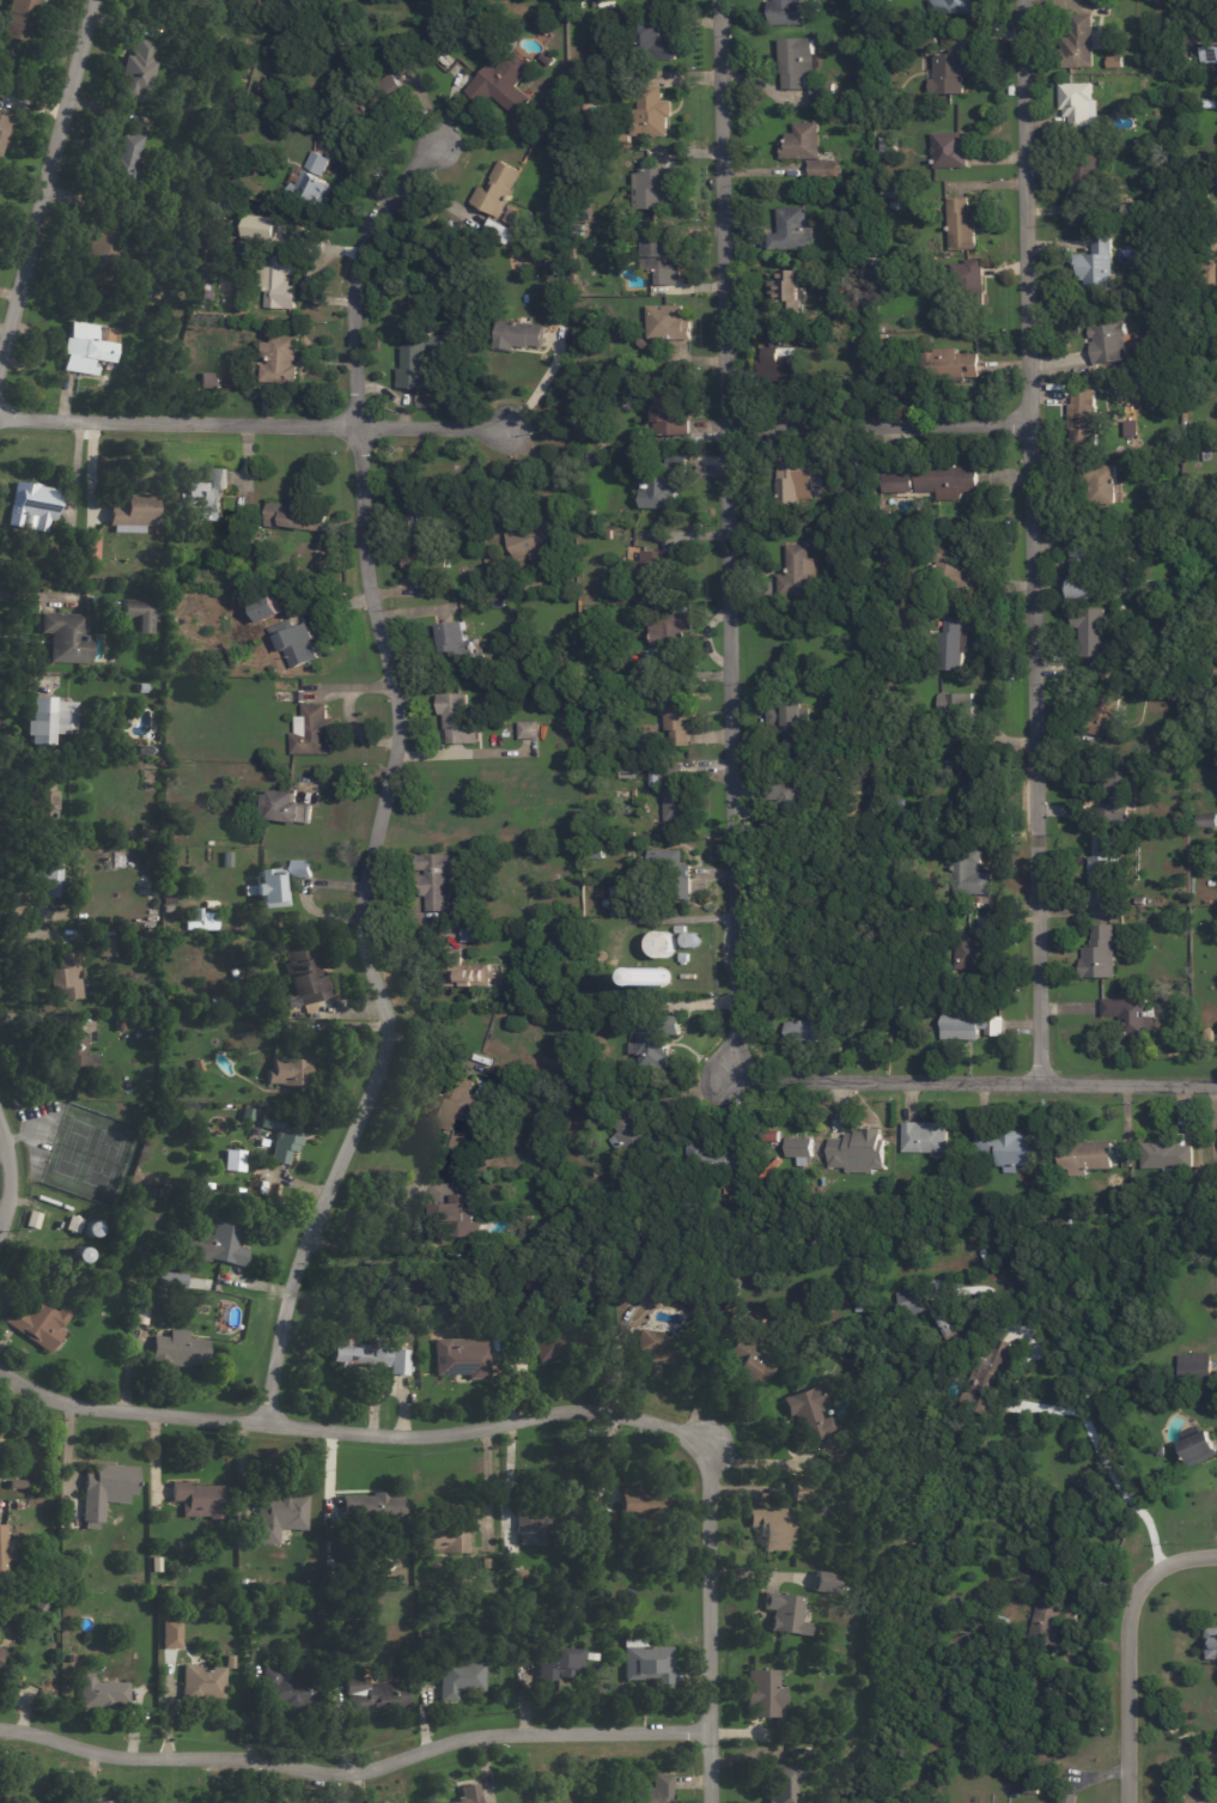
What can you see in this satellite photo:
building: (590, 5)
building: (950, 7)
building: (785, 13)
building: (18, 20)
building: (919, 41)
building: (655, 43)
building: (1078, 45)
building: (1209, 54)
building: (549, 60)
building: (797, 63)
building: (1114, 63)
building: (134, 72)
building: (948, 74)
building: (499, 84)
building: (822, 97)
building: (375, 99)
building: (1078, 107)
building: (1210, 107)
building: (651, 111)
building: (4, 136)
building: (801, 145)
building: (888, 148)
building: (949, 152)
building: (620, 154)
building: (124, 160)
building: (820, 171)
building: (1164, 174)
road: (45, 175)
building: (1083, 181)
building: (308, 188)
building: (652, 188)
building: (498, 190)
building: (889, 193)
building: (894, 208)
building: (254, 226)
building: (960, 226)
building: (497, 232)
building: (790, 232)
building: (96, 257)
building: (656, 257)
building: (1093, 272)
building: (969, 279)
building: (275, 283)
building: (786, 296)
building: (178, 310)
building: (668, 324)
building: (518, 336)
building: (819, 344)
building: (1108, 346)
building: (84, 351)
building: (233, 359)
building: (278, 362)
building: (415, 363)
building: (779, 366)
building: (947, 368)
building: (647, 381)
building: (207, 383)
building: (1212, 388)
road: (252, 417)
building: (1085, 420)
road: (876, 421)
building: (665, 423)
building: (1127, 427)
building: (1206, 456)
building: (597, 460)
building: (945, 479)
building: (661, 484)
building: (797, 484)
building: (897, 484)
building: (1103, 486)
building: (207, 494)
building: (32, 506)
building: (419, 516)
building: (128, 517)
building: (296, 517)
road: (725, 529)
building: (609, 535)
building: (531, 539)
road: (1029, 539)
building: (89, 550)
building: (409, 565)
building: (1082, 569)
building: (953, 570)
building: (797, 575)
building: (647, 577)
road: (39, 595)
building: (498, 606)
building: (266, 609)
building: (134, 619)
building: (667, 629)
building: (62, 631)
building: (1088, 633)
building: (293, 644)
building: (454, 644)
building: (953, 648)
building: (139, 690)
building: (1105, 715)
building: (957, 716)
building: (790, 718)
building: (676, 720)
building: (44, 722)
building: (455, 722)
building: (528, 731)
building: (312, 733)
building: (628, 772)
road: (387, 778)
building: (673, 790)
building: (979, 791)
building: (783, 796)
building: (1114, 799)
building: (43, 802)
building: (278, 808)
building: (1178, 820)
building: (1206, 822)
building: (147, 836)
building: (596, 854)
building: (1102, 864)
building: (304, 870)
building: (670, 873)
building: (48, 879)
building: (969, 880)
building: (437, 885)
building: (267, 890)
building: (615, 903)
building: (1140, 903)
building: (195, 916)
road: (31, 930)
building: (680, 930)
building: (469, 936)
building: (659, 942)
building: (105, 949)
building: (969, 954)
building: (1099, 954)
building: (684, 959)
building: (303, 977)
building: (467, 977)
building: (63, 978)
building: (653, 978)
building: (895, 1007)
building: (1130, 1016)
building: (894, 1018)
building: (121, 1026)
building: (966, 1026)
building: (804, 1032)
building: (657, 1042)
building: (73, 1067)
building: (197, 1068)
building: (290, 1070)
road: (978, 1076)
building: (451, 1106)
building: (245, 1117)
building: (625, 1136)
building: (282, 1139)
building: (769, 1139)
building: (924, 1140)
building: (798, 1148)
building: (1005, 1149)
building: (857, 1153)
building: (706, 1158)
building: (1167, 1158)
building: (232, 1159)
building: (1084, 1159)
road: (14, 1177)
building: (1195, 1194)
building: (454, 1216)
building: (1114, 1221)
building: (30, 1222)
building: (71, 1226)
road: (369, 1239)
building: (214, 1245)
building: (711, 1264)
building: (168, 1276)
building: (397, 1282)
building: (730, 1286)
building: (936, 1286)
building: (531, 1287)
building: (909, 1303)
building: (944, 1322)
building: (37, 1325)
building: (649, 1343)
building: (552, 1346)
building: (177, 1352)
building: (357, 1355)
building: (461, 1360)
building: (397, 1365)
building: (743, 1365)
building: (987, 1367)
building: (1193, 1368)
building: (810, 1416)
building: (0, 1426)
road: (348, 1427)
building: (1198, 1450)
building: (2, 1452)
building: (1160, 1452)
road: (1101, 1457)
building: (14, 1487)
building: (801, 1488)
building: (105, 1492)
building: (196, 1501)
building: (372, 1510)
building: (620, 1517)
building: (276, 1518)
building: (530, 1528)
building: (769, 1530)
building: (445, 1538)
building: (5, 1550)
road: (1181, 1561)
building: (485, 1565)
building: (154, 1566)
building: (822, 1584)
building: (135, 1591)
building: (38, 1607)
building: (787, 1619)
road: (708, 1620)
building: (1047, 1623)
building: (170, 1634)
building: (1211, 1645)
building: (0, 1649)
building: (0, 1655)
building: (646, 1665)
building: (556, 1668)
building: (458, 1681)
building: (201, 1684)
road: (1125, 1687)
building: (287, 1694)
building: (759, 1695)
building: (101, 1696)
building: (371, 1696)
building: (835, 1736)
road: (354, 1769)
building: (1072, 1779)
building: (783, 1783)
building: (1029, 1791)
building: (653, 1792)
building: (471, 1795)
building: (1069, 1797)
building: (102, 1801)
building: (1038, 1802)
building: (1198, 1802)

